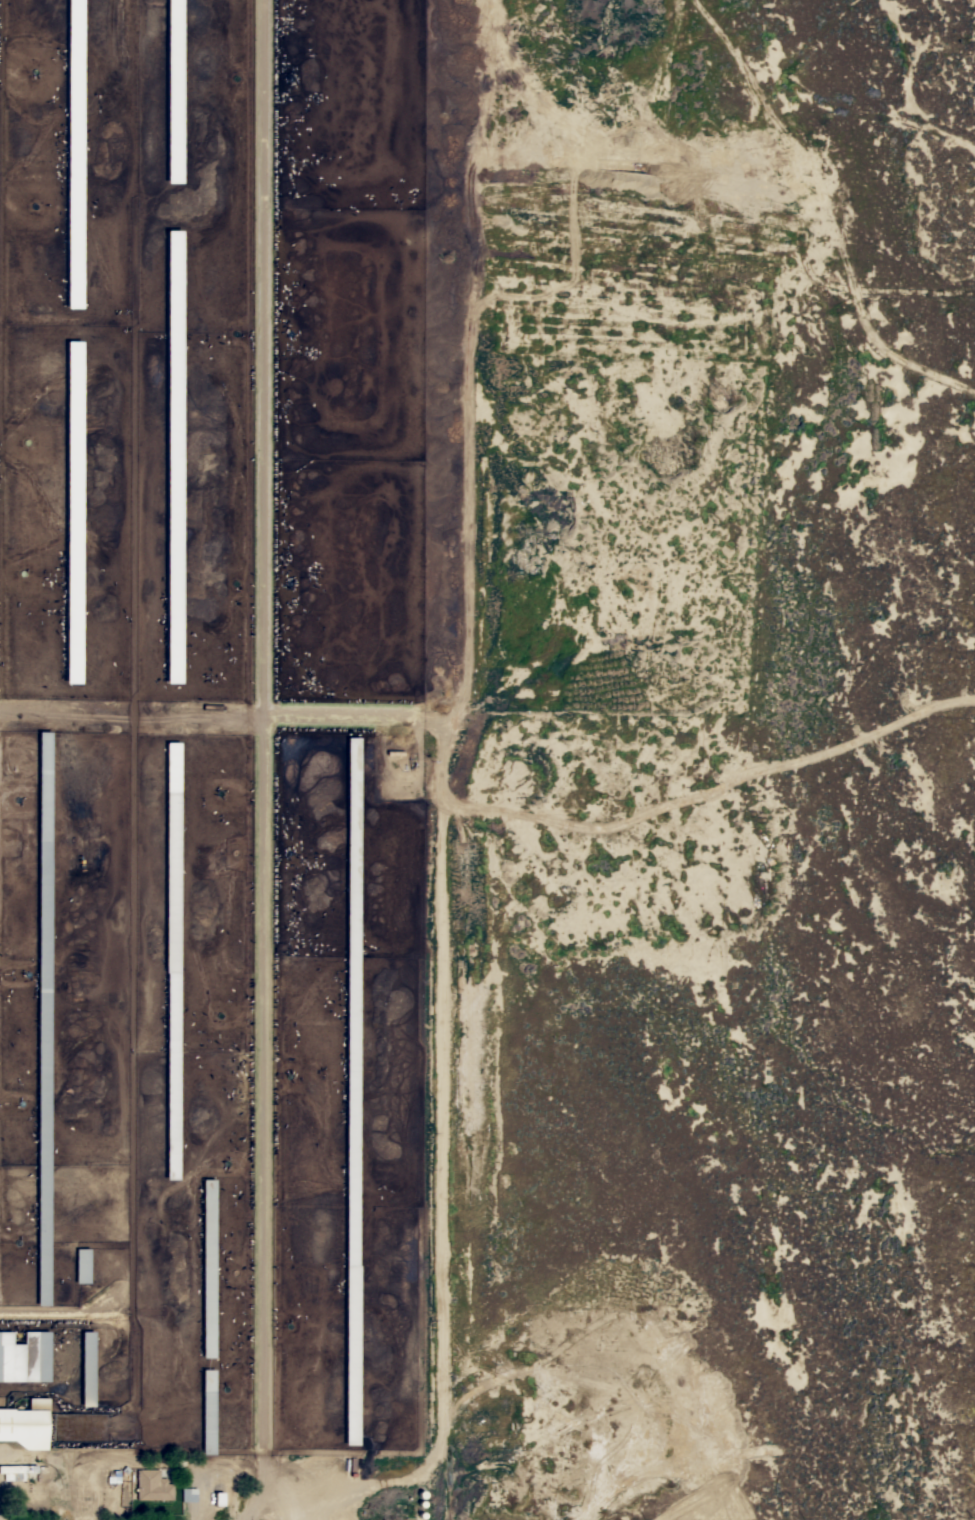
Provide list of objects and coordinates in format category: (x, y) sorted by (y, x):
building: (173, 90)
building: (73, 153)
building: (173, 456)
building: (72, 512)
road: (262, 709)
building: (171, 953)
road: (440, 966)
building: (42, 1014)
building: (351, 1096)
building: (81, 1265)
building: (207, 1316)
building: (24, 1357)
building: (86, 1368)
building: (25, 1424)
road: (262, 1453)
building: (16, 1471)
road: (450, 1481)
building: (151, 1485)
building: (217, 1498)
road: (258, 1504)

